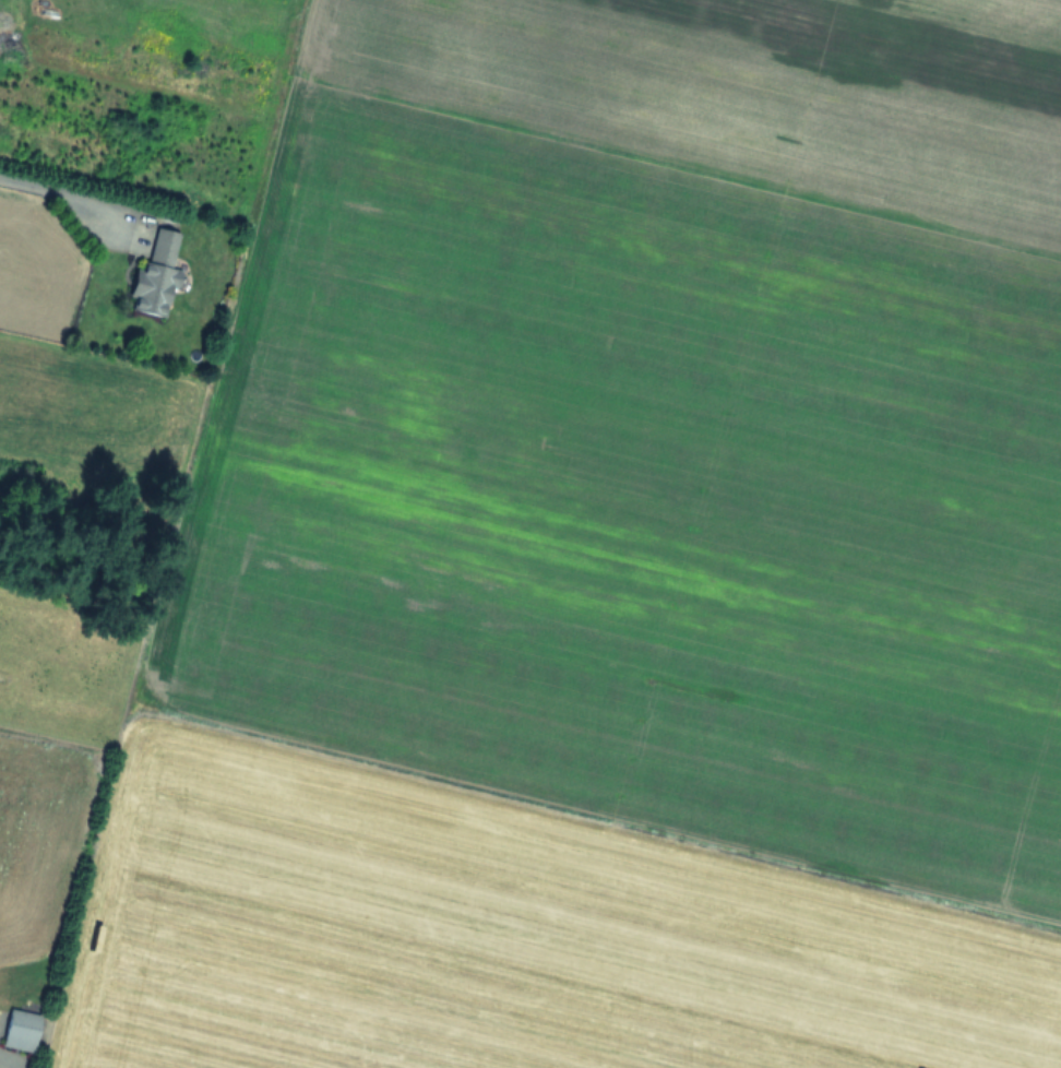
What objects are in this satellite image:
road: (61, 193)
building: (156, 276)
crop: (530, 534)
building: (21, 1031)

